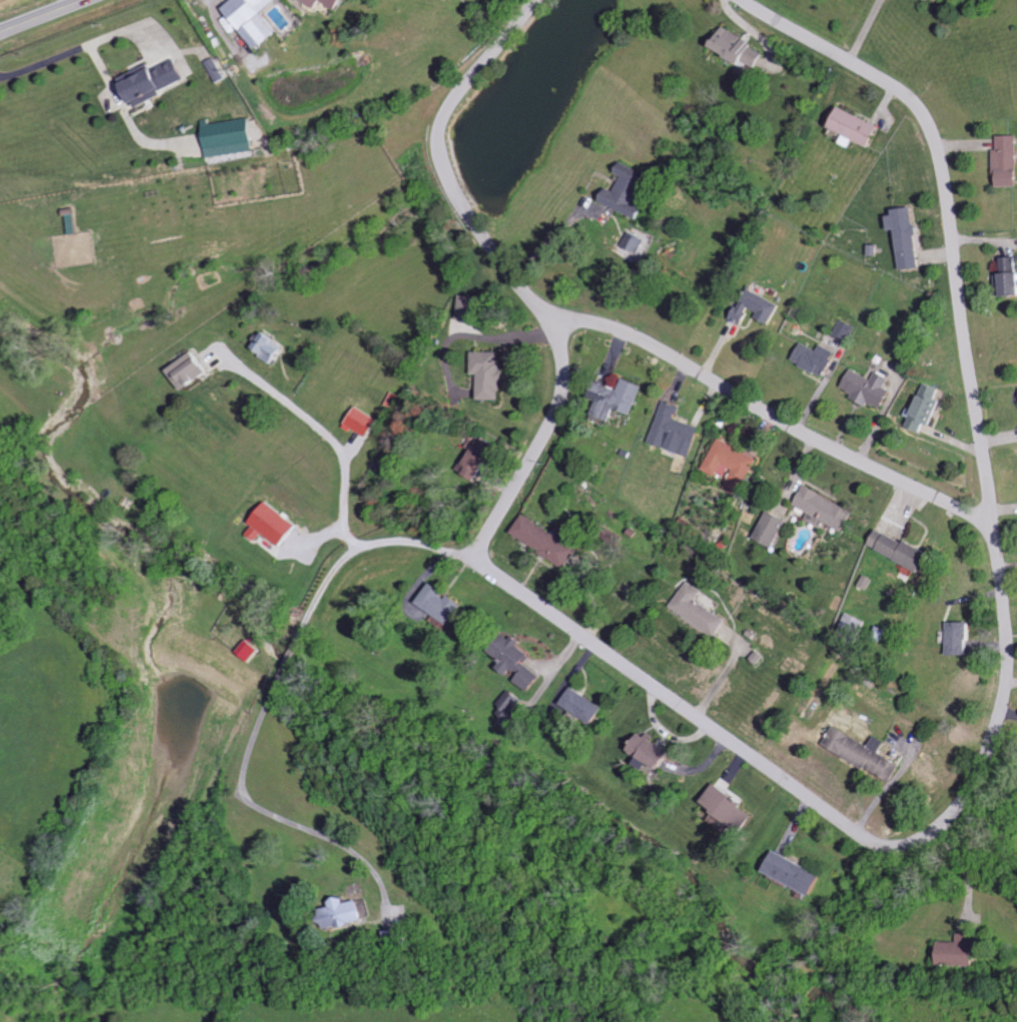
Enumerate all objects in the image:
building: (941, 0)
road: (82, 1)
building: (337, 4)
road: (44, 17)
building: (255, 19)
building: (741, 48)
building: (217, 69)
building: (156, 81)
building: (232, 137)
building: (1007, 160)
building: (626, 192)
building: (908, 237)
road: (549, 241)
building: (634, 242)
building: (1011, 276)
road: (511, 278)
building: (469, 306)
building: (756, 307)
building: (845, 330)
building: (271, 347)
building: (816, 358)
building: (192, 371)
building: (491, 374)
building: (870, 388)
building: (618, 398)
building: (927, 408)
road: (769, 416)
building: (365, 422)
road: (326, 429)
building: (675, 431)
building: (480, 458)
building: (731, 465)
building: (827, 509)
building: (274, 525)
building: (773, 528)
building: (545, 541)
building: (903, 550)
building: (443, 603)
building: (699, 609)
building: (962, 638)
road: (1005, 639)
building: (518, 661)
road: (278, 681)
building: (511, 702)
building: (587, 706)
road: (1008, 712)
building: (655, 753)
building: (865, 753)
building: (732, 808)
road: (982, 867)
building: (796, 873)
building: (346, 913)
building: (961, 950)

